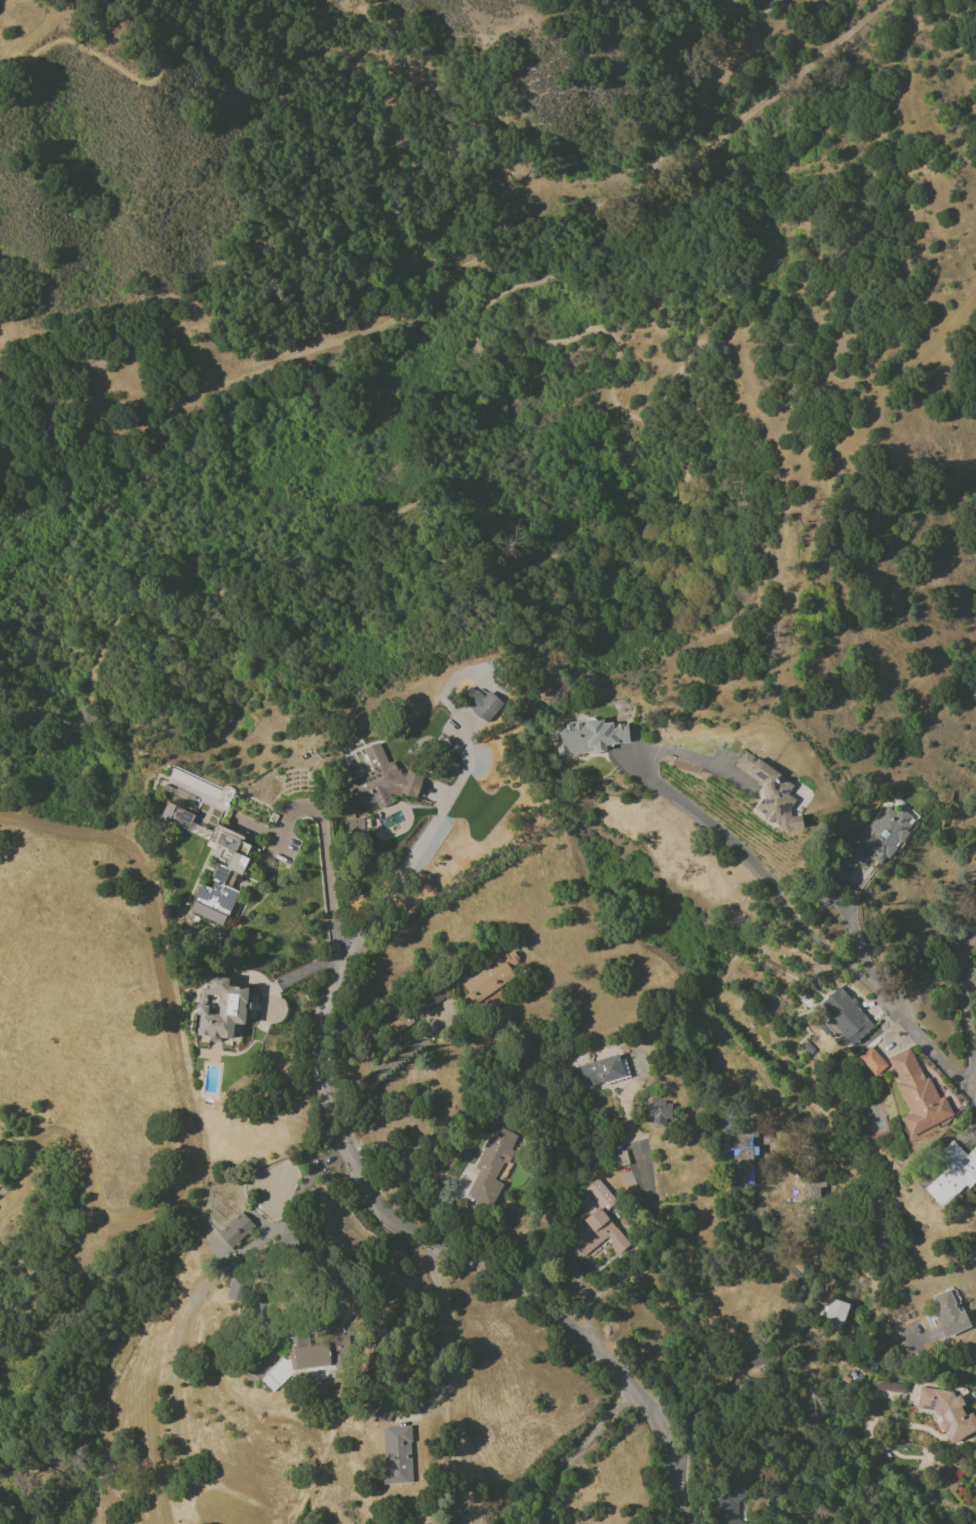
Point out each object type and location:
road: (111, 68)
road: (703, 91)
road: (768, 98)
road: (330, 343)
road: (616, 543)
building: (481, 704)
building: (588, 736)
road: (693, 757)
building: (382, 780)
building: (770, 793)
building: (355, 824)
building: (214, 840)
building: (873, 842)
road: (416, 844)
road: (842, 887)
road: (329, 906)
road: (860, 950)
road: (967, 971)
building: (489, 976)
road: (857, 977)
building: (432, 998)
road: (269, 999)
building: (220, 1008)
building: (846, 1016)
building: (395, 1024)
building: (872, 1061)
road: (973, 1064)
building: (599, 1071)
road: (376, 1075)
building: (917, 1094)
road: (970, 1094)
building: (658, 1110)
park: (875, 1123)
road: (971, 1136)
building: (490, 1165)
building: (952, 1173)
road: (304, 1188)
building: (812, 1190)
building: (597, 1191)
building: (238, 1231)
building: (595, 1234)
road: (455, 1250)
road: (761, 1260)
road: (585, 1299)
building: (835, 1312)
building: (949, 1314)
road: (449, 1343)
building: (320, 1354)
road: (941, 1365)
building: (277, 1374)
building: (887, 1390)
building: (384, 1412)
building: (947, 1412)
road: (574, 1453)
building: (396, 1454)
building: (730, 1503)
building: (390, 1523)

